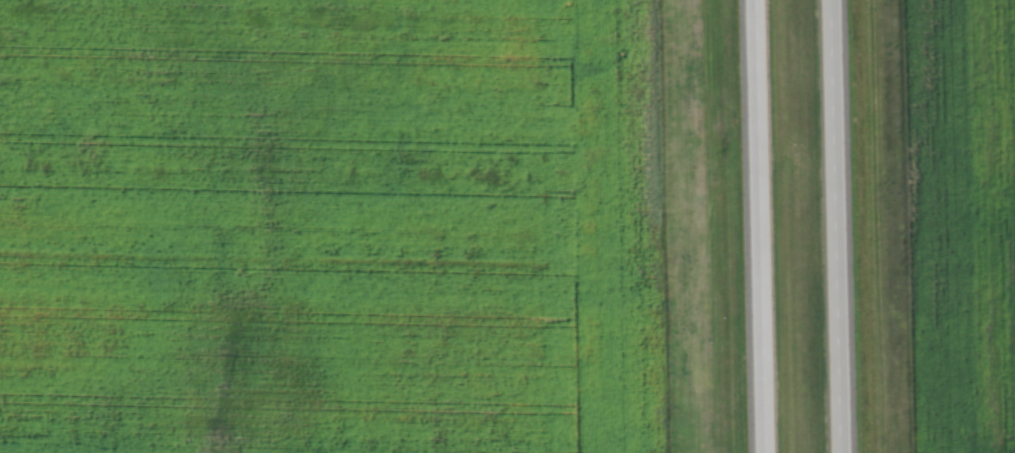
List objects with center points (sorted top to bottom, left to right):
road: (767, 226)
road: (850, 226)

